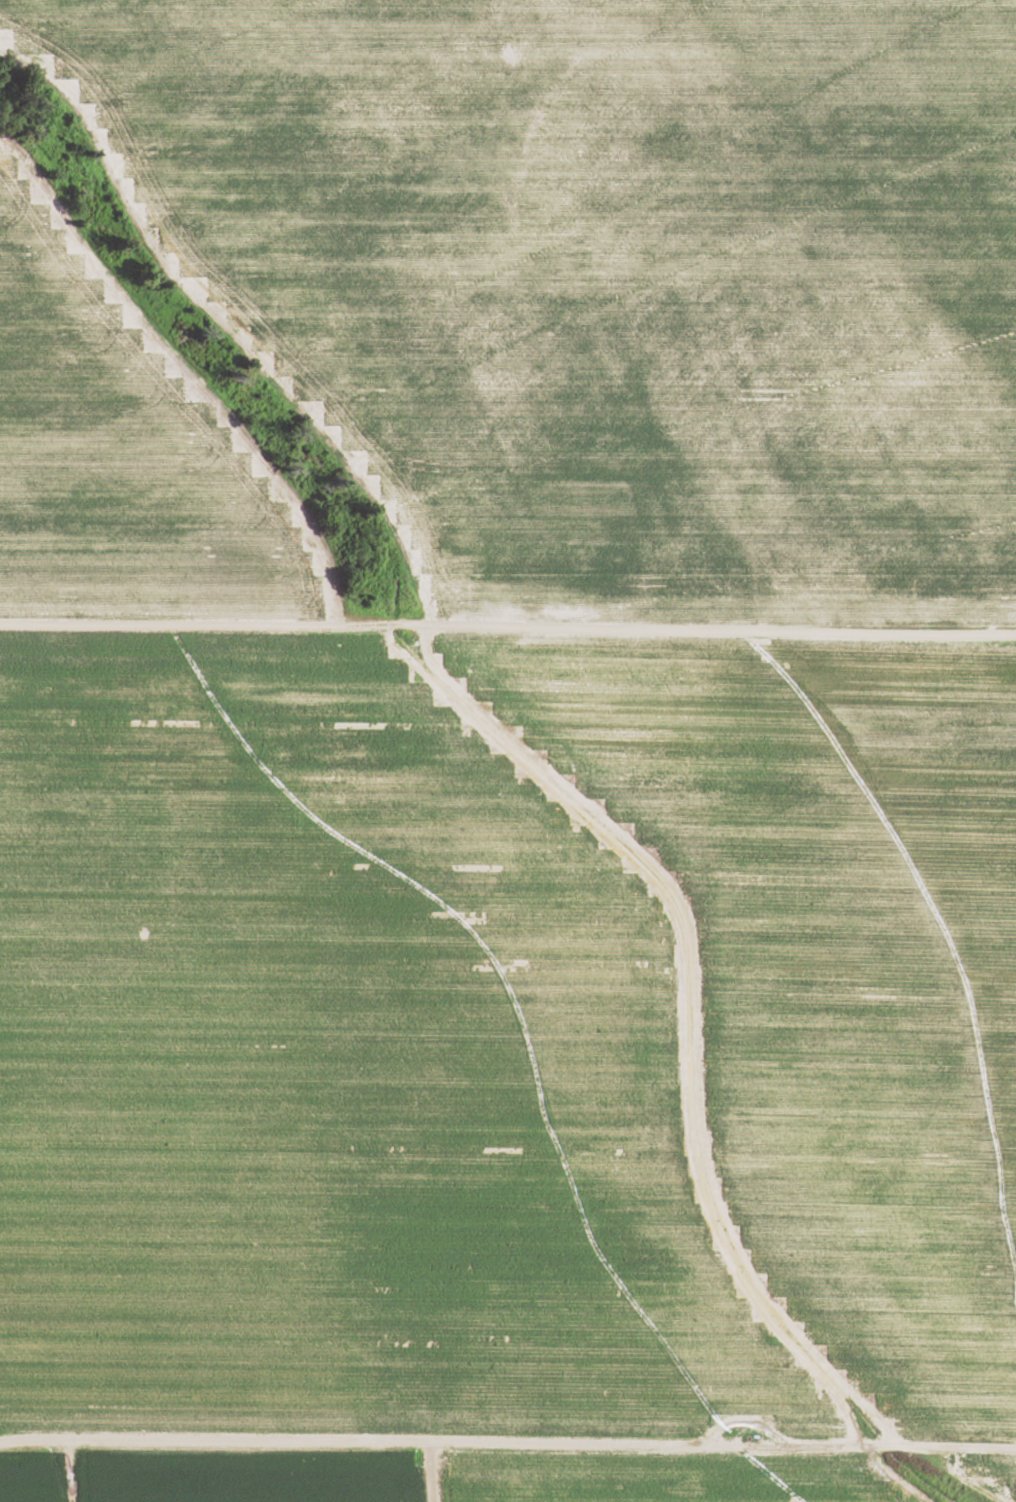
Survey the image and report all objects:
road: (508, 619)
road: (507, 1442)
road: (420, 1471)
road: (70, 1472)

